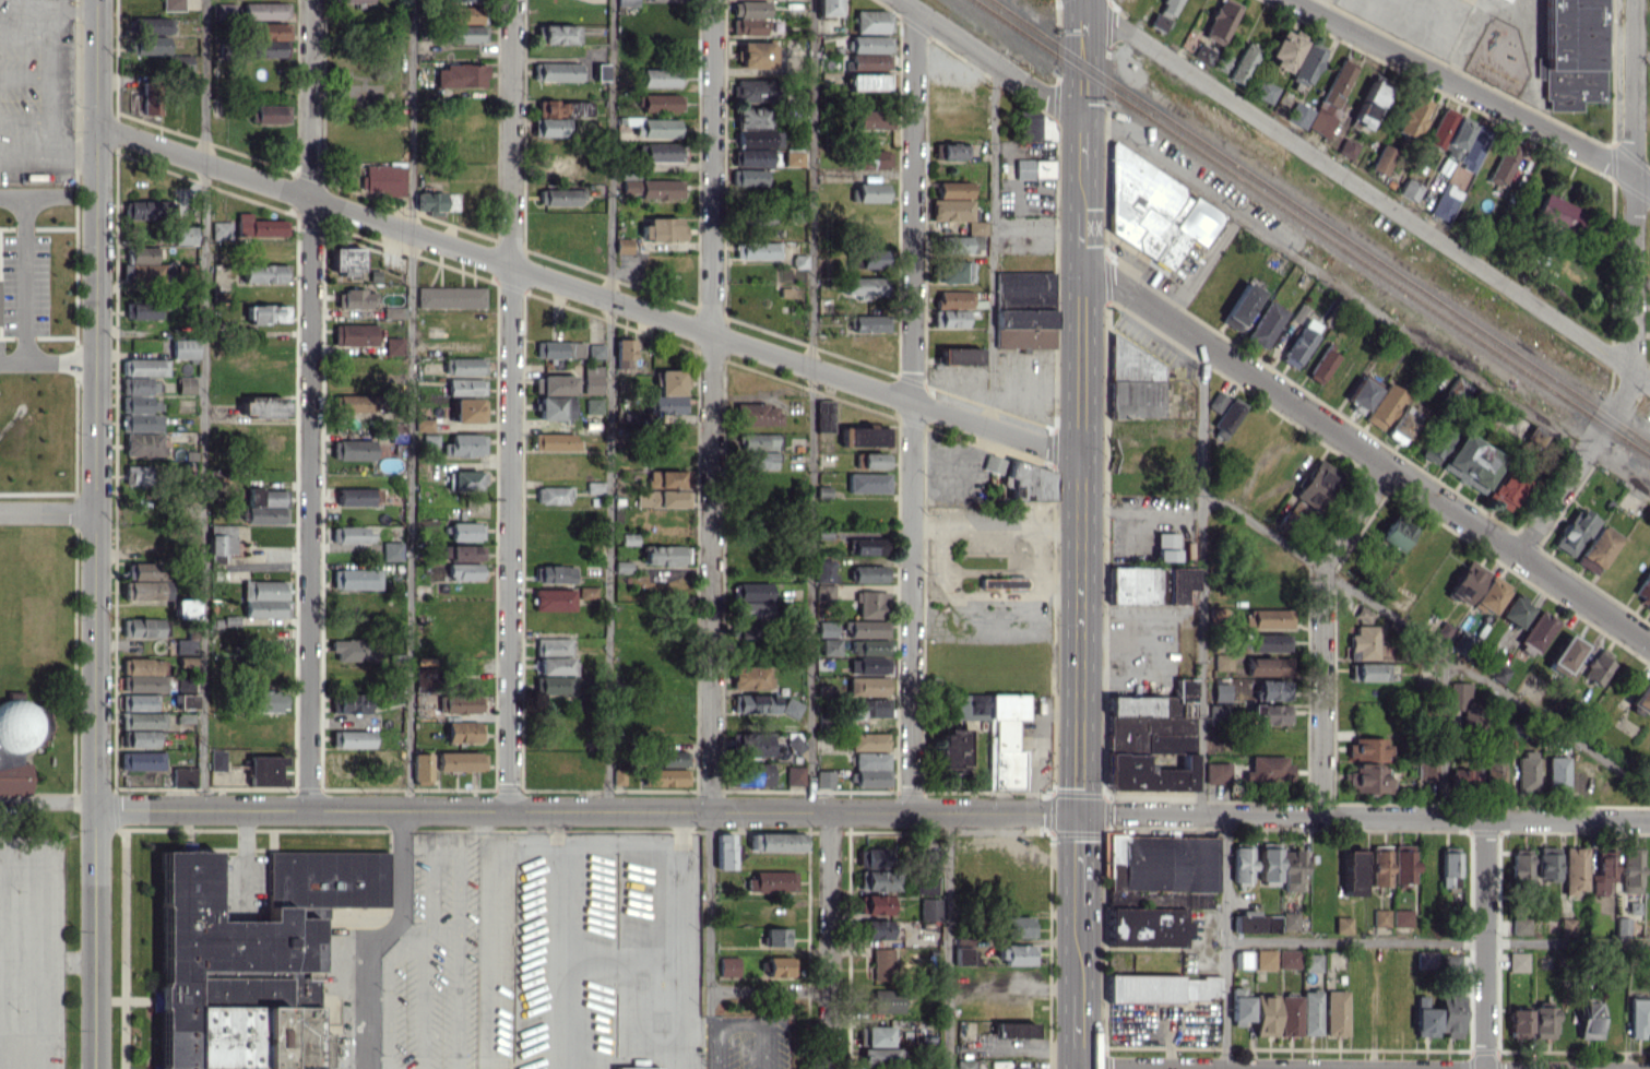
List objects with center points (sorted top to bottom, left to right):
building: (461, 0)
building: (353, 1)
road: (1297, 1)
building: (627, 2)
building: (173, 4)
building: (750, 8)
building: (827, 8)
building: (1167, 8)
building: (226, 10)
building: (265, 10)
road: (1443, 13)
building: (466, 14)
building: (870, 21)
building: (1220, 21)
building: (1158, 22)
building: (152, 25)
road: (1471, 25)
building: (748, 26)
building: (465, 34)
building: (558, 34)
building: (271, 39)
building: (870, 44)
building: (147, 45)
building: (1285, 49)
building: (755, 54)
building: (1201, 54)
building: (1570, 54)
road: (1641, 58)
road: (992, 60)
building: (868, 61)
building: (1222, 61)
building: (181, 62)
building: (1243, 62)
building: (1306, 63)
building: (557, 71)
building: (601, 71)
building: (460, 75)
building: (658, 76)
road: (51, 79)
building: (866, 81)
building: (751, 90)
building: (1265, 91)
road: (1471, 91)
building: (151, 98)
building: (1330, 99)
building: (661, 102)
building: (1369, 105)
building: (563, 108)
building: (270, 114)
building: (1298, 115)
building: (753, 117)
building: (1413, 117)
building: (870, 119)
building: (1033, 126)
building: (547, 127)
building: (656, 127)
building: (1440, 127)
road: (512, 133)
building: (759, 138)
building: (1346, 147)
building: (1472, 150)
building: (952, 151)
building: (662, 152)
road: (48, 157)
building: (756, 157)
building: (793, 157)
building: (875, 158)
building: (1381, 159)
building: (1503, 166)
building: (1033, 168)
building: (748, 177)
building: (382, 178)
building: (652, 188)
building: (953, 189)
road: (1366, 190)
building: (1408, 190)
building: (871, 192)
road: (304, 197)
building: (558, 197)
building: (437, 202)
building: (1445, 202)
building: (138, 209)
building: (951, 209)
building: (1152, 210)
building: (1558, 214)
railway: (1322, 221)
building: (258, 226)
building: (976, 227)
railway: (1313, 227)
building: (663, 229)
building: (221, 230)
building: (180, 235)
building: (955, 244)
building: (622, 245)
road: (993, 245)
building: (867, 258)
building: (345, 260)
building: (799, 261)
building: (146, 265)
road: (1199, 266)
road: (23, 272)
building: (954, 272)
building: (264, 273)
road: (1641, 280)
building: (863, 286)
building: (788, 292)
road: (1631, 294)
building: (451, 297)
building: (357, 298)
building: (952, 298)
building: (1239, 306)
road: (1366, 306)
building: (1023, 309)
building: (142, 310)
building: (394, 312)
building: (265, 313)
building: (950, 318)
building: (867, 323)
building: (1266, 324)
building: (354, 334)
building: (1299, 342)
building: (393, 345)
building: (185, 348)
building: (558, 348)
building: (596, 351)
building: (624, 353)
building: (959, 355)
road: (796, 361)
road: (47, 364)
building: (463, 366)
building: (1321, 366)
building: (144, 367)
building: (592, 379)
building: (186, 384)
building: (554, 384)
building: (465, 385)
building: (1131, 387)
building: (1458, 389)
building: (1363, 391)
building: (666, 393)
building: (1215, 401)
building: (355, 402)
road: (203, 403)
road: (309, 403)
road: (409, 403)
road: (609, 404)
road: (711, 404)
building: (140, 405)
building: (593, 405)
road: (810, 405)
building: (263, 406)
building: (1384, 406)
building: (554, 407)
building: (467, 409)
road: (912, 409)
building: (758, 414)
building: (824, 415)
building: (1226, 417)
building: (424, 424)
building: (1403, 426)
building: (868, 437)
building: (553, 441)
building: (759, 441)
building: (144, 444)
building: (464, 444)
building: (1435, 447)
building: (353, 449)
road: (1365, 453)
building: (761, 460)
building: (871, 460)
building: (1471, 462)
building: (993, 463)
building: (138, 474)
building: (665, 477)
building: (465, 479)
building: (867, 482)
building: (1029, 482)
building: (1314, 485)
building: (595, 487)
building: (1505, 488)
building: (553, 495)
building: (354, 496)
building: (665, 498)
building: (264, 506)
road: (47, 512)
road: (1355, 519)
road: (996, 521)
building: (466, 531)
building: (1572, 531)
building: (1394, 533)
road: (95, 534)
building: (352, 534)
road: (1080, 534)
road: (511, 537)
building: (222, 541)
building: (868, 543)
road: (1038, 546)
building: (1165, 546)
building: (1596, 549)
building: (392, 550)
building: (463, 553)
building: (662, 555)
building: (144, 570)
building: (465, 570)
building: (824, 570)
road: (994, 571)
building: (555, 573)
building: (868, 573)
building: (356, 578)
road: (1200, 578)
building: (1001, 582)
building: (1467, 582)
building: (1150, 584)
building: (1645, 587)
building: (147, 590)
building: (587, 592)
building: (827, 594)
building: (1489, 594)
building: (264, 598)
building: (752, 598)
building: (554, 599)
building: (871, 604)
building: (1648, 606)
building: (185, 607)
building: (1514, 609)
building: (1363, 614)
building: (1268, 618)
building: (141, 627)
building: (868, 628)
building: (1443, 629)
building: (746, 630)
building: (1538, 630)
road: (1428, 640)
building: (1270, 642)
building: (1364, 642)
building: (1463, 643)
building: (186, 645)
building: (554, 646)
building: (830, 646)
building: (870, 646)
building: (355, 650)
building: (1565, 653)
building: (186, 661)
building: (1222, 662)
building: (1486, 663)
building: (556, 665)
building: (869, 665)
building: (1267, 666)
building: (1598, 666)
building: (1367, 672)
building: (1498, 674)
building: (143, 675)
building: (749, 677)
building: (182, 682)
building: (555, 685)
building: (868, 685)
building: (1271, 689)
building: (1221, 692)
road: (1321, 692)
building: (1458, 696)
building: (1641, 699)
building: (266, 700)
building: (139, 701)
building: (187, 701)
building: (352, 703)
building: (461, 703)
building: (755, 703)
building: (971, 705)
building: (870, 708)
building: (1218, 713)
building: (1271, 713)
building: (142, 718)
building: (464, 732)
road: (1443, 735)
building: (140, 738)
building: (352, 738)
building: (1006, 740)
building: (1151, 740)
building: (869, 741)
building: (19, 743)
building: (751, 744)
building: (796, 744)
building: (1368, 748)
building: (952, 750)
building: (142, 760)
building: (217, 760)
building: (461, 760)
building: (871, 760)
building: (422, 768)
building: (1268, 768)
building: (265, 770)
building: (1527, 770)
building: (1215, 772)
building: (795, 774)
building: (1557, 774)
building: (751, 775)
building: (183, 776)
building: (666, 776)
building: (871, 777)
building: (824, 779)
building: (1368, 779)
building: (1649, 779)
road: (46, 801)
road: (586, 809)
traffic signals: (1080, 813)
road: (1365, 816)
building: (776, 841)
building: (724, 851)
building: (929, 858)
building: (1161, 863)
building: (1547, 863)
building: (1241, 864)
building: (1268, 864)
building: (1379, 866)
building: (1402, 866)
building: (1520, 866)
building: (877, 868)
building: (1291, 868)
building: (1448, 868)
building: (1630, 869)
building: (1575, 870)
building: (1352, 872)
building: (1602, 875)
building: (768, 881)
building: (925, 886)
building: (1197, 901)
building: (877, 904)
building: (929, 908)
road: (709, 911)
building: (1380, 917)
building: (1402, 917)
building: (1289, 920)
building: (1255, 922)
building: (1342, 924)
building: (1019, 926)
building: (1520, 926)
building: (1567, 926)
building: (1145, 927)
building: (875, 929)
building: (777, 936)
road: (380, 937)
road: (43, 940)
road: (830, 940)
road: (949, 940)
road: (1224, 942)
road: (1437, 942)
road: (1485, 943)
building: (251, 947)
parking lot: (32, 950)
building: (965, 951)
building: (1017, 954)
road: (69, 955)
building: (1244, 959)
building: (1265, 959)
building: (1287, 959)
building: (1425, 959)
building: (1517, 961)
building: (1313, 962)
building: (883, 963)
building: (1450, 963)
building: (777, 965)
building: (728, 966)
building: (1162, 988)
road: (769, 990)
building: (885, 1000)
building: (1239, 1007)
building: (1310, 1012)
building: (1336, 1012)
building: (1450, 1013)
building: (1265, 1014)
building: (1290, 1015)
building: (1639, 1015)
building: (1589, 1020)
building: (1425, 1021)
building: (1543, 1021)
building: (1518, 1022)
road: (740, 1024)
building: (1014, 1029)
building: (877, 1035)
building: (882, 1056)
building: (965, 1065)
building: (638, 1067)
building: (1020, 1068)
road: (1130, 1068)
road: (1151, 1068)

